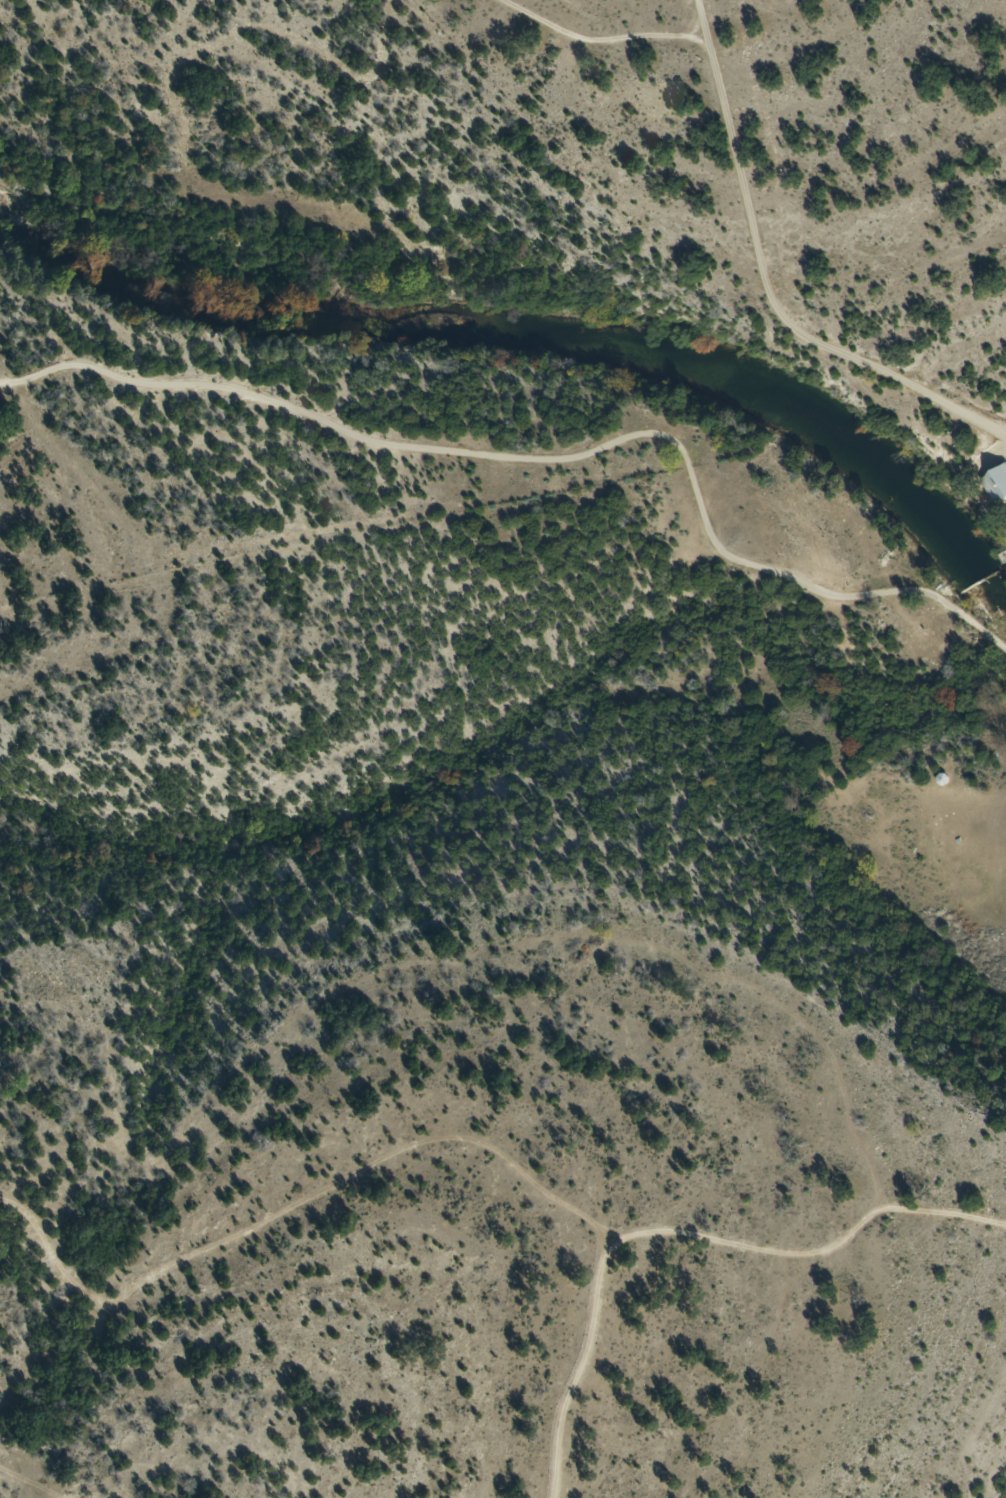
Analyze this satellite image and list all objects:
building: (1001, 485)

